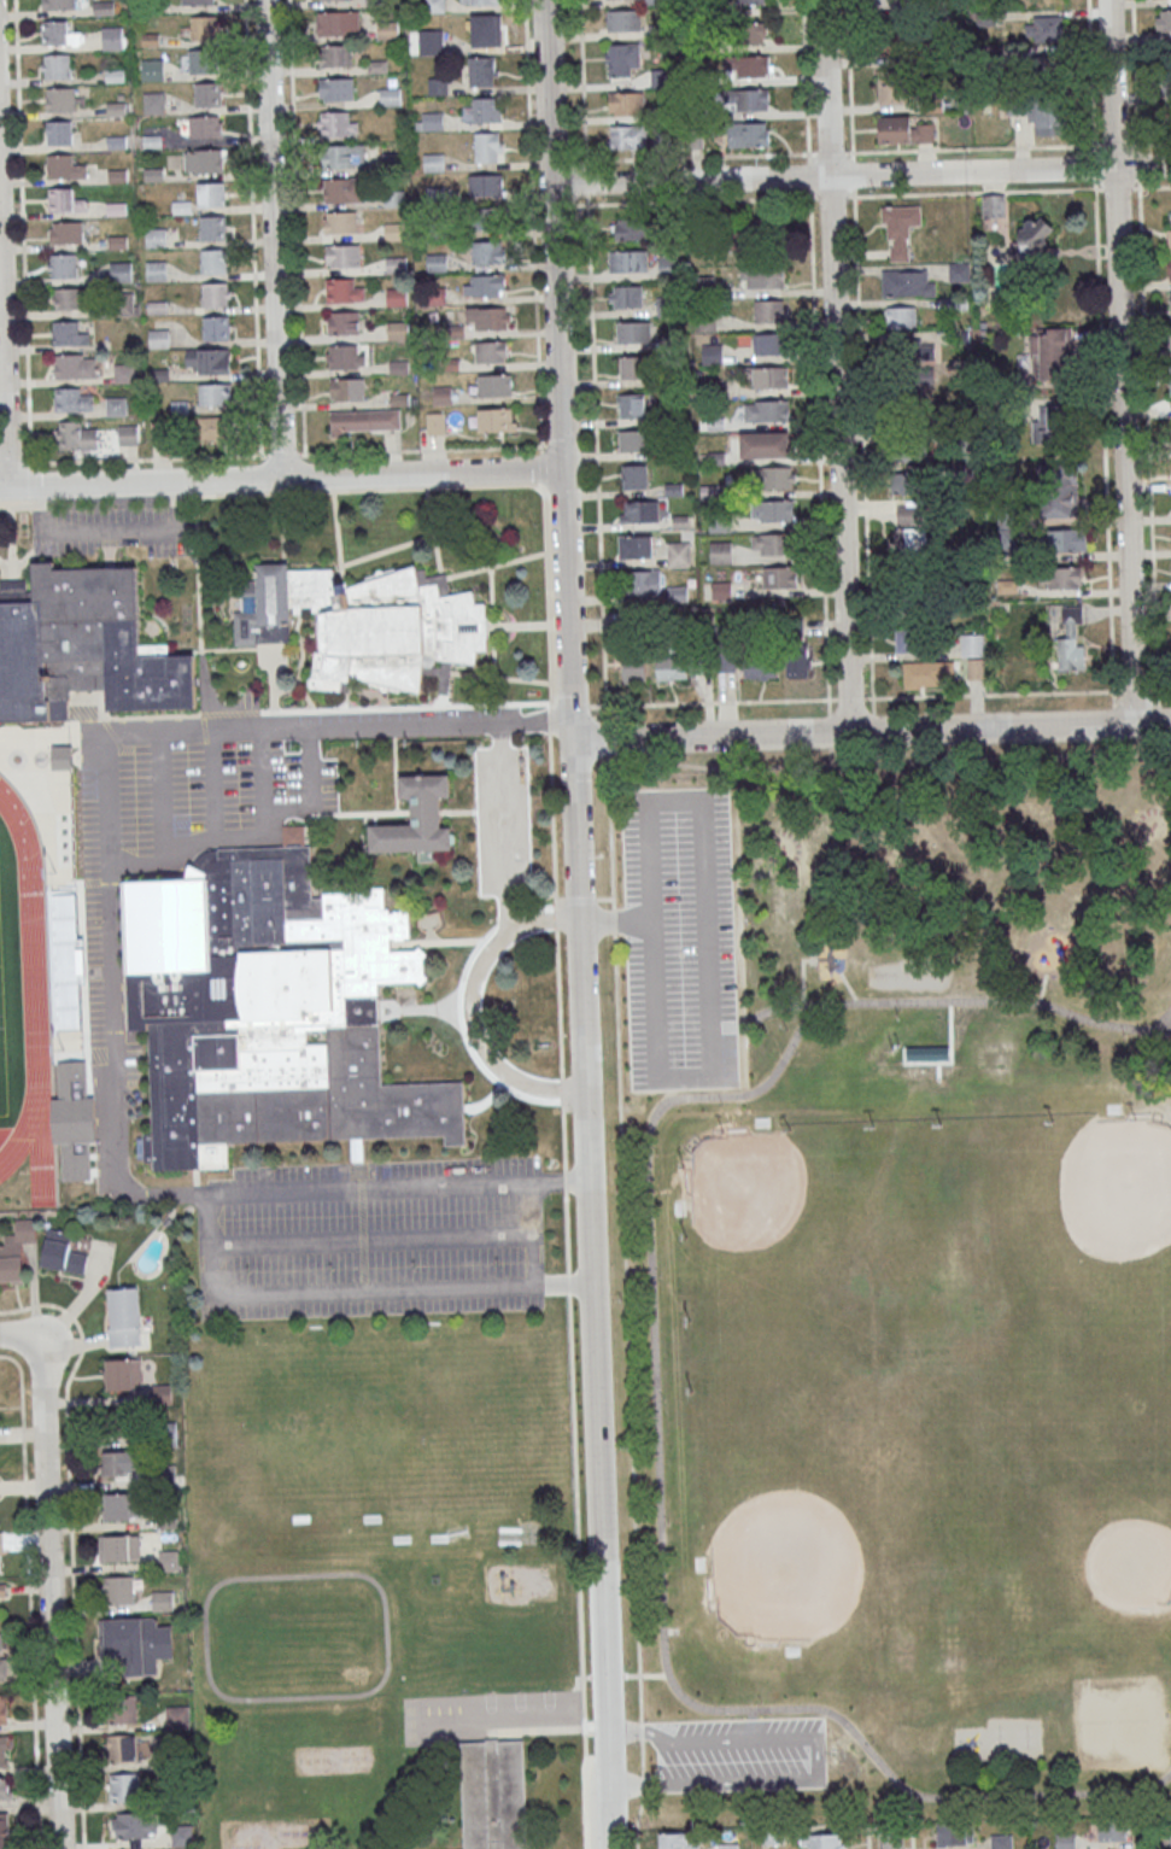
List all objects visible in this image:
building: (198, 1)
building: (480, 1)
building: (655, 1)
building: (748, 1)
building: (892, 2)
building: (58, 4)
building: (931, 6)
building: (103, 7)
building: (985, 18)
building: (623, 19)
building: (1165, 19)
building: (338, 23)
building: (204, 27)
building: (1044, 28)
building: (485, 29)
building: (58, 33)
building: (753, 33)
building: (112, 37)
building: (431, 42)
building: (890, 42)
building: (335, 55)
building: (622, 59)
building: (199, 60)
building: (55, 65)
building: (755, 65)
building: (152, 69)
building: (484, 71)
road: (806, 76)
road: (581, 83)
building: (892, 87)
building: (336, 88)
building: (207, 94)
building: (390, 95)
building: (60, 98)
building: (1167, 98)
building: (753, 99)
building: (153, 103)
building: (626, 103)
building: (486, 109)
building: (1040, 111)
building: (336, 123)
building: (204, 127)
building: (903, 130)
building: (59, 133)
building: (746, 134)
building: (628, 136)
building: (490, 146)
road: (878, 150)
building: (344, 154)
building: (203, 160)
building: (433, 162)
building: (64, 166)
road: (862, 175)
road: (585, 181)
building: (486, 183)
building: (342, 189)
road: (991, 192)
building: (211, 193)
building: (63, 199)
road: (698, 201)
building: (994, 205)
building: (487, 218)
building: (340, 221)
road: (532, 224)
building: (212, 227)
road: (251, 227)
road: (295, 227)
building: (630, 229)
building: (900, 229)
building: (65, 232)
building: (1169, 233)
road: (21, 234)
building: (156, 238)
road: (273, 238)
building: (1035, 238)
building: (487, 252)
building: (342, 254)
building: (213, 259)
building: (628, 261)
building: (62, 265)
building: (668, 265)
building: (1170, 269)
building: (156, 270)
building: (121, 271)
building: (959, 271)
building: (762, 276)
building: (908, 282)
building: (484, 285)
building: (342, 289)
building: (216, 293)
building: (626, 296)
building: (396, 297)
building: (68, 298)
building: (124, 303)
building: (1170, 303)
building: (769, 310)
building: (901, 316)
building: (490, 318)
building: (342, 322)
building: (216, 327)
building: (397, 329)
building: (633, 330)
building: (68, 333)
building: (1170, 335)
building: (159, 338)
building: (768, 344)
building: (491, 351)
building: (911, 353)
building: (1049, 353)
building: (345, 356)
building: (207, 359)
road: (1120, 362)
building: (75, 365)
building: (631, 367)
road: (836, 367)
building: (124, 373)
road: (1144, 375)
building: (769, 376)
road: (1101, 376)
road: (860, 380)
road: (2, 385)
building: (494, 385)
building: (347, 388)
building: (215, 394)
building: (72, 398)
building: (631, 404)
building: (115, 405)
building: (767, 410)
building: (497, 419)
building: (365, 421)
building: (435, 423)
building: (1050, 423)
building: (212, 428)
building: (77, 434)
building: (128, 434)
building: (631, 440)
building: (766, 444)
road: (422, 449)
building: (911, 449)
road: (563, 450)
road: (281, 454)
road: (589, 457)
road: (819, 457)
road: (144, 458)
road: (597, 458)
road: (11, 463)
road: (541, 467)
building: (634, 475)
road: (281, 476)
building: (775, 476)
building: (906, 482)
road: (29, 484)
road: (397, 487)
road: (543, 488)
building: (1061, 490)
road: (5, 504)
road: (22, 504)
road: (40, 505)
building: (639, 510)
building: (773, 510)
building: (909, 514)
road: (130, 529)
road: (433, 529)
road: (10, 538)
building: (1067, 539)
road: (39, 540)
building: (911, 540)
building: (771, 543)
building: (636, 546)
building: (720, 552)
building: (679, 554)
road: (23, 561)
road: (351, 563)
road: (497, 564)
road: (7, 569)
building: (779, 577)
building: (1061, 577)
road: (443, 578)
building: (646, 583)
building: (924, 586)
building: (721, 590)
building: (368, 624)
road: (517, 626)
road: (492, 636)
building: (1070, 637)
building: (909, 638)
building: (972, 644)
building: (82, 646)
road: (268, 648)
building: (725, 661)
building: (797, 662)
building: (761, 666)
building: (634, 667)
road: (300, 668)
building: (672, 668)
building: (977, 668)
building: (441, 673)
building: (925, 673)
road: (499, 678)
road: (444, 679)
road: (1160, 689)
road: (1135, 690)
road: (993, 694)
road: (850, 697)
road: (441, 700)
road: (203, 701)
road: (713, 702)
road: (573, 706)
road: (408, 707)
road: (549, 707)
road: (229, 713)
road: (153, 716)
parking lot: (411, 718)
road: (107, 719)
road: (226, 719)
road: (549, 721)
road: (204, 729)
road: (872, 732)
road: (110, 733)
road: (607, 738)
road: (112, 748)
road: (122, 750)
road: (890, 760)
road: (311, 767)
road: (259, 772)
road: (209, 785)
road: (158, 800)
building: (417, 817)
road: (552, 820)
parking lot: (503, 821)
road: (505, 829)
road: (610, 831)
road: (218, 838)
road: (580, 900)
road: (605, 900)
road: (561, 901)
road: (544, 908)
road: (515, 919)
road: (556, 919)
road: (614, 920)
road: (616, 920)
road: (581, 924)
parking lot: (679, 941)
parking lot: (95, 949)
road: (112, 960)
road: (802, 979)
road: (849, 990)
road: (1042, 991)
road: (560, 1004)
flagpole: (508, 1006)
road: (473, 1007)
building: (269, 1010)
road: (763, 1013)
track: (31, 1016)
road: (1160, 1019)
parking lot: (470, 1023)
road: (467, 1037)
building: (925, 1052)
park: (2, 1055)
road: (948, 1060)
road: (937, 1070)
road: (712, 1082)
road: (562, 1088)
road: (668, 1090)
road: (563, 1134)
road: (564, 1181)
park: (1076, 1216)
road: (567, 1231)
park: (792, 1233)
road: (533, 1234)
road: (370, 1239)
road: (363, 1240)
parking lot: (369, 1241)
building: (16, 1250)
building: (63, 1252)
road: (569, 1283)
park: (901, 1288)
road: (350, 1292)
building: (123, 1316)
road: (627, 1326)
road: (22, 1341)
building: (123, 1374)
park: (375, 1382)
road: (655, 1388)
building: (162, 1393)
park: (377, 1409)
building: (121, 1465)
building: (124, 1508)
park: (1079, 1511)
park: (822, 1540)
building: (1, 1541)
road: (71, 1541)
building: (123, 1549)
building: (0, 1553)
building: (168, 1560)
road: (578, 1572)
building: (2, 1591)
building: (123, 1591)
road: (29, 1595)
road: (49, 1603)
building: (124, 1633)
building: (1, 1652)
road: (504, 1661)
road: (645, 1674)
road: (607, 1675)
road: (578, 1678)
road: (361, 1693)
building: (2, 1708)
building: (122, 1709)
building: (177, 1718)
park: (1119, 1724)
road: (640, 1730)
road: (461, 1736)
road: (387, 1743)
building: (123, 1749)
building: (4, 1751)
parking lot: (737, 1753)
road: (815, 1756)
building: (124, 1787)
building: (5, 1789)
road: (643, 1794)
building: (493, 1796)
road: (912, 1807)
road: (311, 1812)
building: (133, 1826)
building: (1113, 1827)
building: (4, 1830)
road: (1154, 1831)
building: (955, 1833)
building: (181, 1835)
road: (868, 1835)
road: (912, 1835)
road: (889, 1837)
building: (824, 1841)
building: (672, 1842)
building: (1066, 1842)
road: (304, 1847)
building: (728, 1847)

